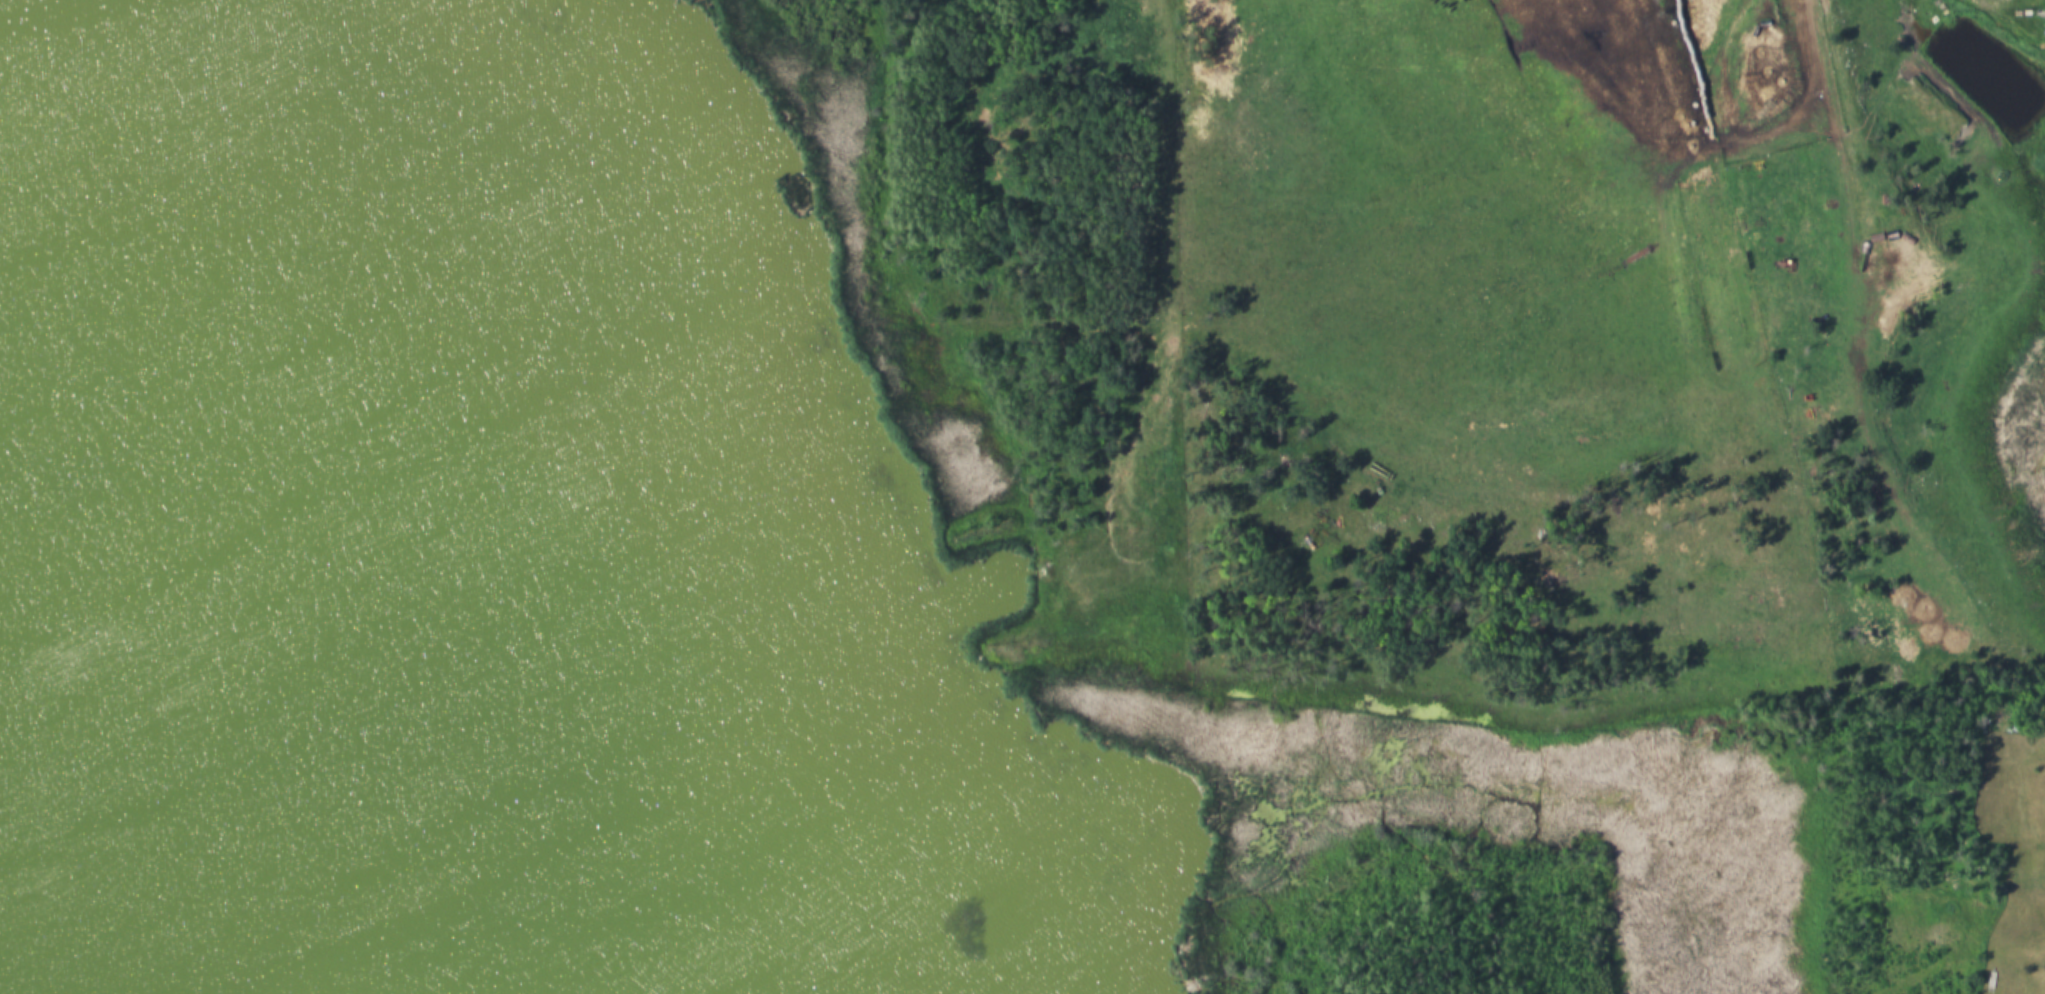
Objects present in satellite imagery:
road: (1162, 154)

